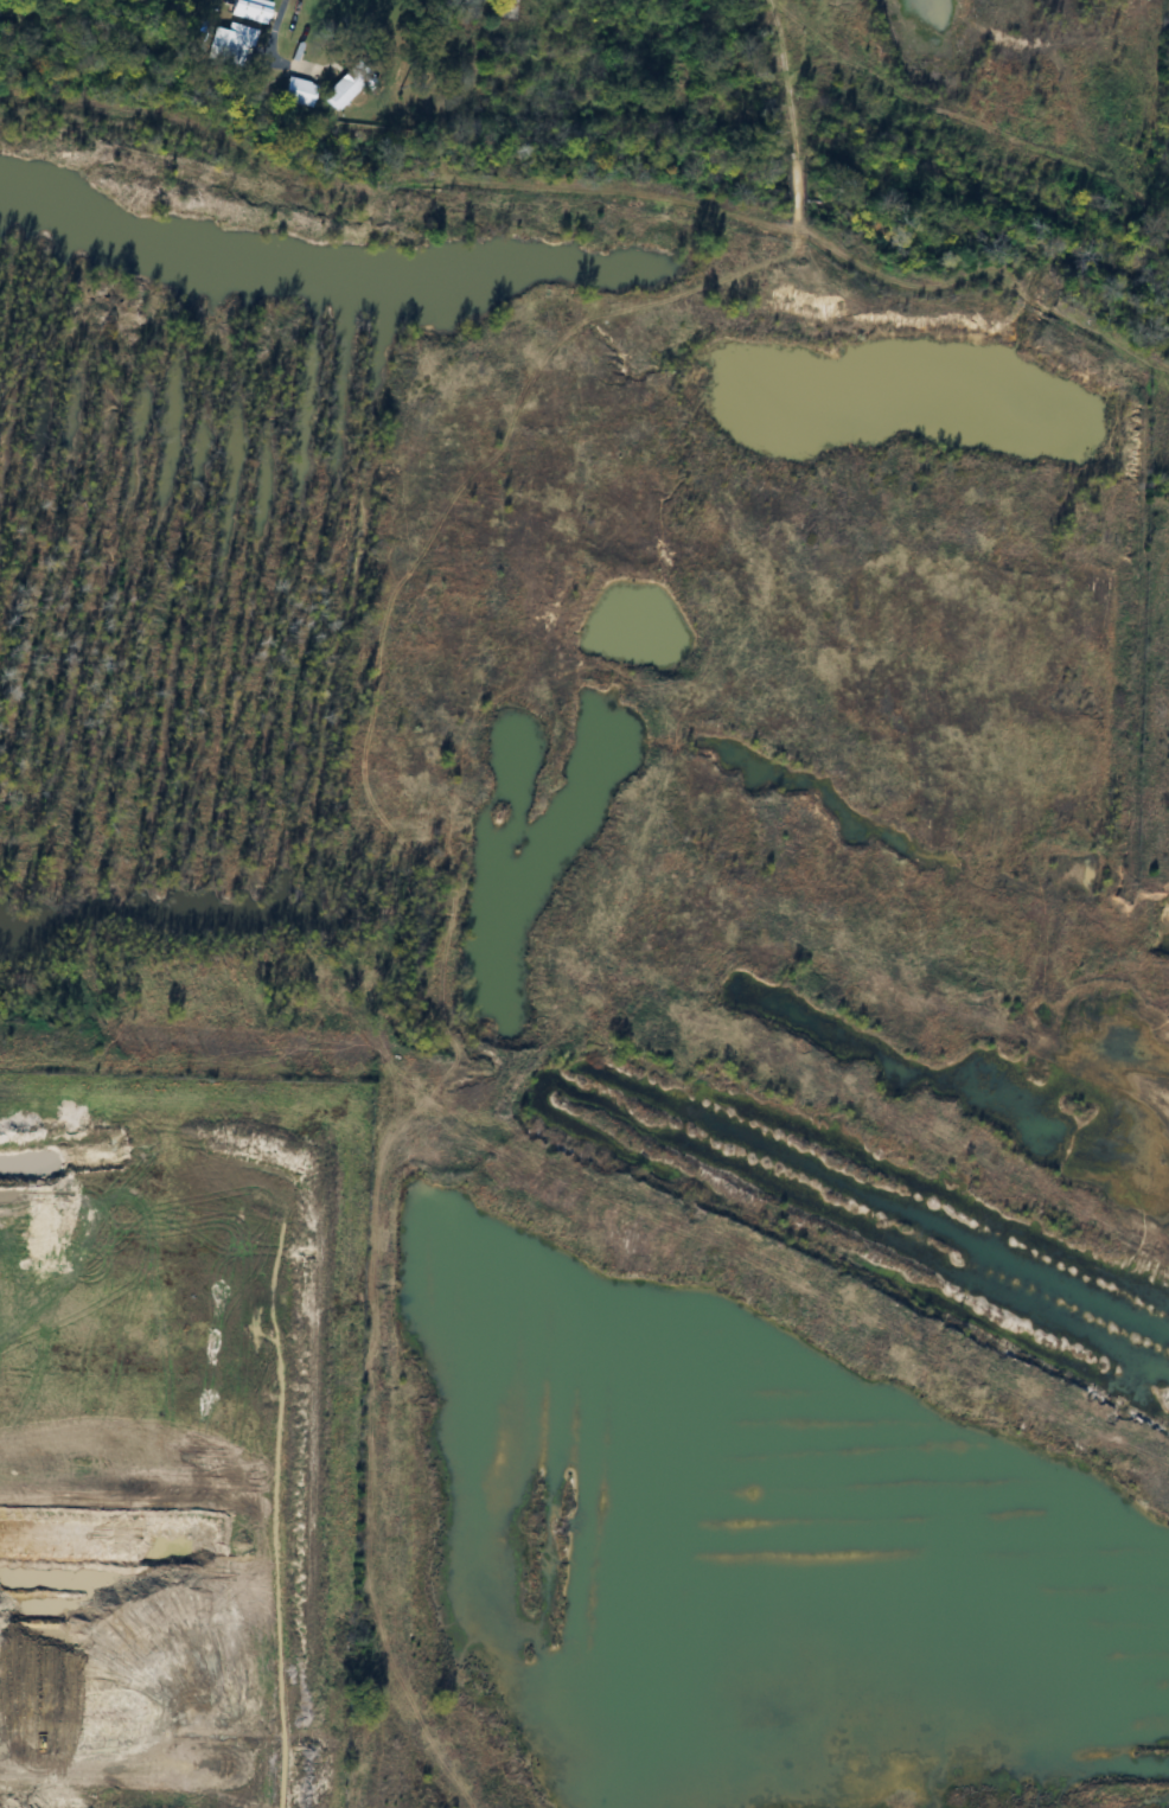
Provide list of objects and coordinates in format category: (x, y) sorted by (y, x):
road: (270, 27)
building: (294, 91)

